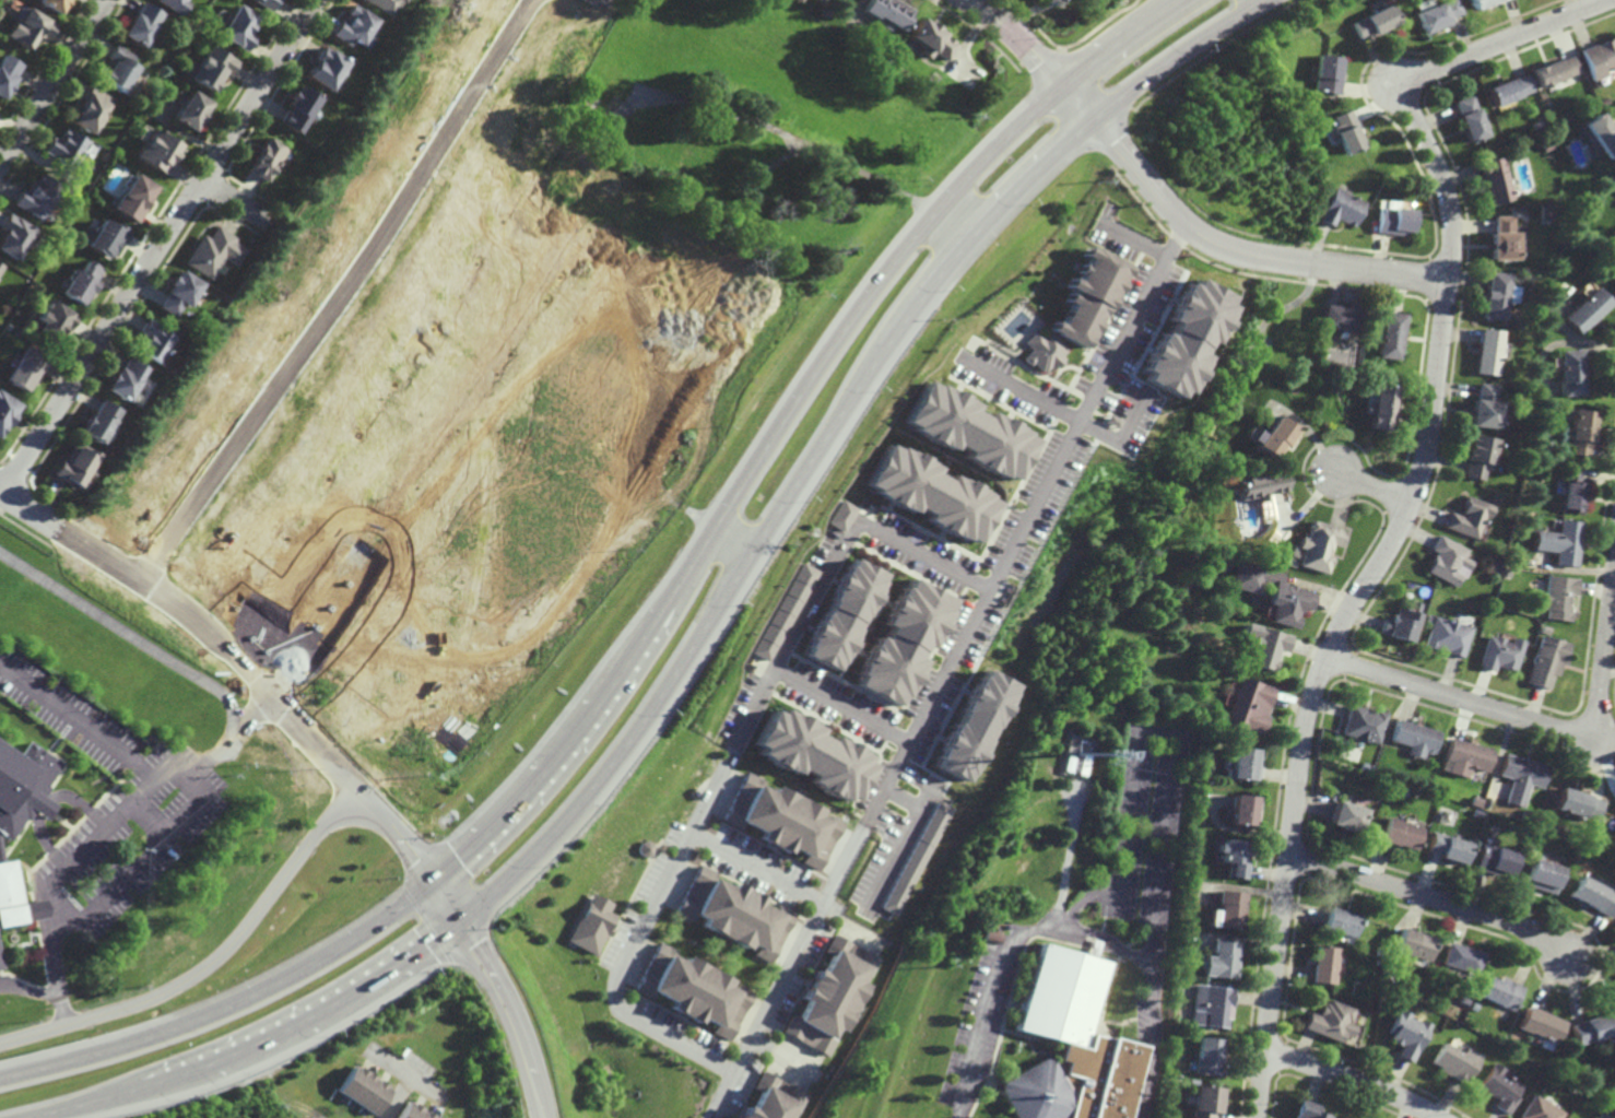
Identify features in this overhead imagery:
road: (1263, 0)
building: (799, 1)
building: (1483, 2)
road: (971, 3)
road: (980, 3)
building: (267, 4)
building: (55, 5)
building: (176, 5)
building: (388, 5)
building: (824, 12)
building: (886, 12)
building: (1439, 15)
building: (1375, 21)
building: (143, 24)
building: (31, 26)
building: (236, 26)
building: (357, 26)
building: (931, 37)
building: (1600, 57)
road: (1041, 61)
building: (213, 64)
building: (329, 64)
building: (120, 67)
building: (1556, 69)
building: (8, 72)
building: (1328, 73)
road: (54, 85)
building: (1510, 89)
building: (1604, 99)
building: (300, 106)
building: (92, 108)
building: (192, 108)
building: (1471, 118)
building: (1539, 125)
road: (785, 131)
building: (1347, 131)
building: (1601, 131)
building: (1549, 144)
building: (71, 146)
building: (160, 148)
building: (269, 156)
building: (1493, 180)
building: (1613, 180)
building: (40, 195)
building: (137, 196)
road: (241, 203)
building: (1343, 208)
building: (1396, 220)
road: (951, 228)
building: (19, 235)
building: (110, 236)
road: (1130, 237)
building: (1507, 237)
road: (161, 246)
building: (216, 250)
road: (1243, 252)
building: (1, 267)
building: (84, 282)
building: (181, 291)
road: (342, 292)
building: (1502, 293)
building: (1089, 295)
building: (1590, 309)
building: (1343, 317)
building: (56, 318)
building: (1394, 334)
building: (156, 340)
building: (1182, 340)
building: (1044, 351)
building: (1494, 351)
building: (28, 367)
building: (1572, 373)
building: (129, 378)
building: (1231, 388)
road: (1029, 396)
building: (1384, 405)
building: (1506, 407)
building: (1487, 408)
building: (7, 410)
building: (1536, 419)
building: (103, 421)
building: (971, 431)
building: (1581, 432)
building: (1277, 437)
building: (1478, 456)
building: (78, 464)
road: (422, 476)
road: (719, 483)
road: (1376, 484)
building: (1260, 486)
building: (1572, 489)
building: (934, 492)
road: (1, 496)
road: (1414, 498)
building: (847, 516)
building: (1469, 518)
building: (1529, 518)
road: (682, 540)
building: (1561, 543)
building: (1319, 548)
building: (1446, 562)
road: (591, 565)
building: (1272, 593)
building: (1558, 599)
building: (788, 612)
building: (844, 614)
road: (198, 620)
road: (432, 621)
road: (653, 623)
building: (1400, 625)
road: (126, 631)
road: (698, 632)
building: (1447, 638)
building: (900, 643)
building: (1265, 648)
building: (1500, 655)
building: (1547, 662)
road: (944, 668)
road: (841, 707)
building: (1247, 709)
road: (1531, 720)
road: (79, 721)
building: (976, 726)
building: (1363, 727)
road: (229, 734)
building: (1414, 741)
building: (815, 744)
building: (1075, 744)
building: (1369, 750)
road: (1140, 751)
building: (1465, 757)
road: (727, 762)
building: (1085, 764)
building: (1242, 764)
building: (1070, 766)
building: (1521, 777)
building: (24, 785)
road: (151, 785)
building: (1393, 787)
building: (1381, 791)
building: (1475, 799)
building: (1578, 801)
road: (49, 804)
building: (1241, 805)
building: (1511, 807)
building: (1345, 813)
road: (151, 817)
building: (781, 819)
building: (1523, 829)
building: (1399, 831)
building: (1193, 832)
road: (398, 836)
building: (1447, 845)
building: (644, 848)
building: (1234, 854)
building: (918, 858)
road: (1068, 858)
building: (1495, 858)
building: (1543, 873)
traffic signals: (437, 881)
road: (791, 886)
building: (1593, 894)
building: (16, 897)
building: (1191, 897)
road: (1433, 897)
building: (1228, 907)
building: (731, 911)
traffic signals: (460, 918)
building: (1340, 920)
building: (590, 922)
building: (987, 934)
building: (1413, 942)
building: (986, 943)
road: (1106, 944)
building: (1180, 945)
building: (1380, 950)
building: (1223, 956)
building: (1461, 957)
building: (1323, 963)
road: (210, 964)
building: (1389, 968)
building: (691, 989)
building: (1500, 990)
road: (31, 991)
building: (1614, 991)
road: (503, 992)
building: (833, 993)
building: (1462, 1000)
building: (1213, 1004)
building: (1474, 1005)
building: (1332, 1022)
building: (1540, 1025)
building: (1592, 1027)
building: (1406, 1033)
building: (1511, 1038)
building: (1170, 1039)
building: (1072, 1044)
building: (1207, 1056)
road: (788, 1059)
building: (1455, 1061)
road: (1355, 1079)
building: (1192, 1082)
building: (1500, 1087)
building: (359, 1088)
building: (775, 1099)
building: (1205, 1101)
building: (1539, 1109)
building: (1308, 1110)
building: (411, 1111)
building: (1602, 1116)

